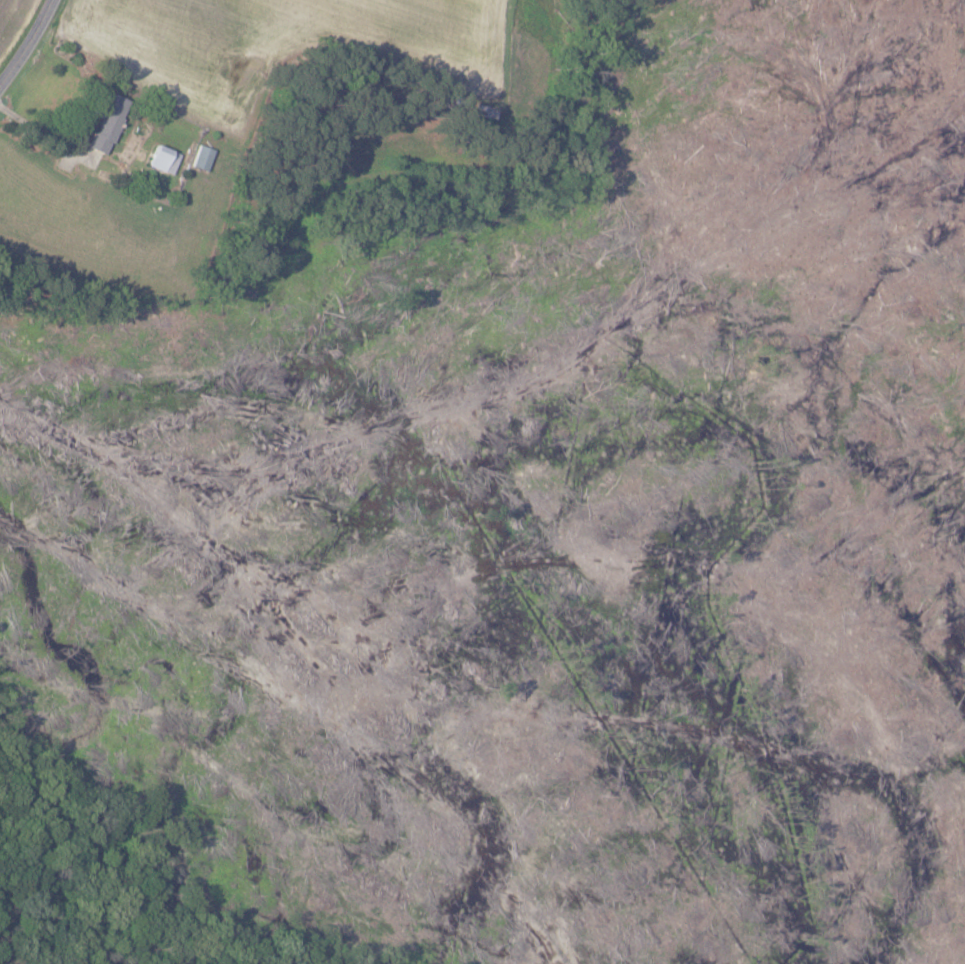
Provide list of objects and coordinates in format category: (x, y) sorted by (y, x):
road: (29, 47)
building: (109, 123)
building: (202, 157)
building: (164, 159)

